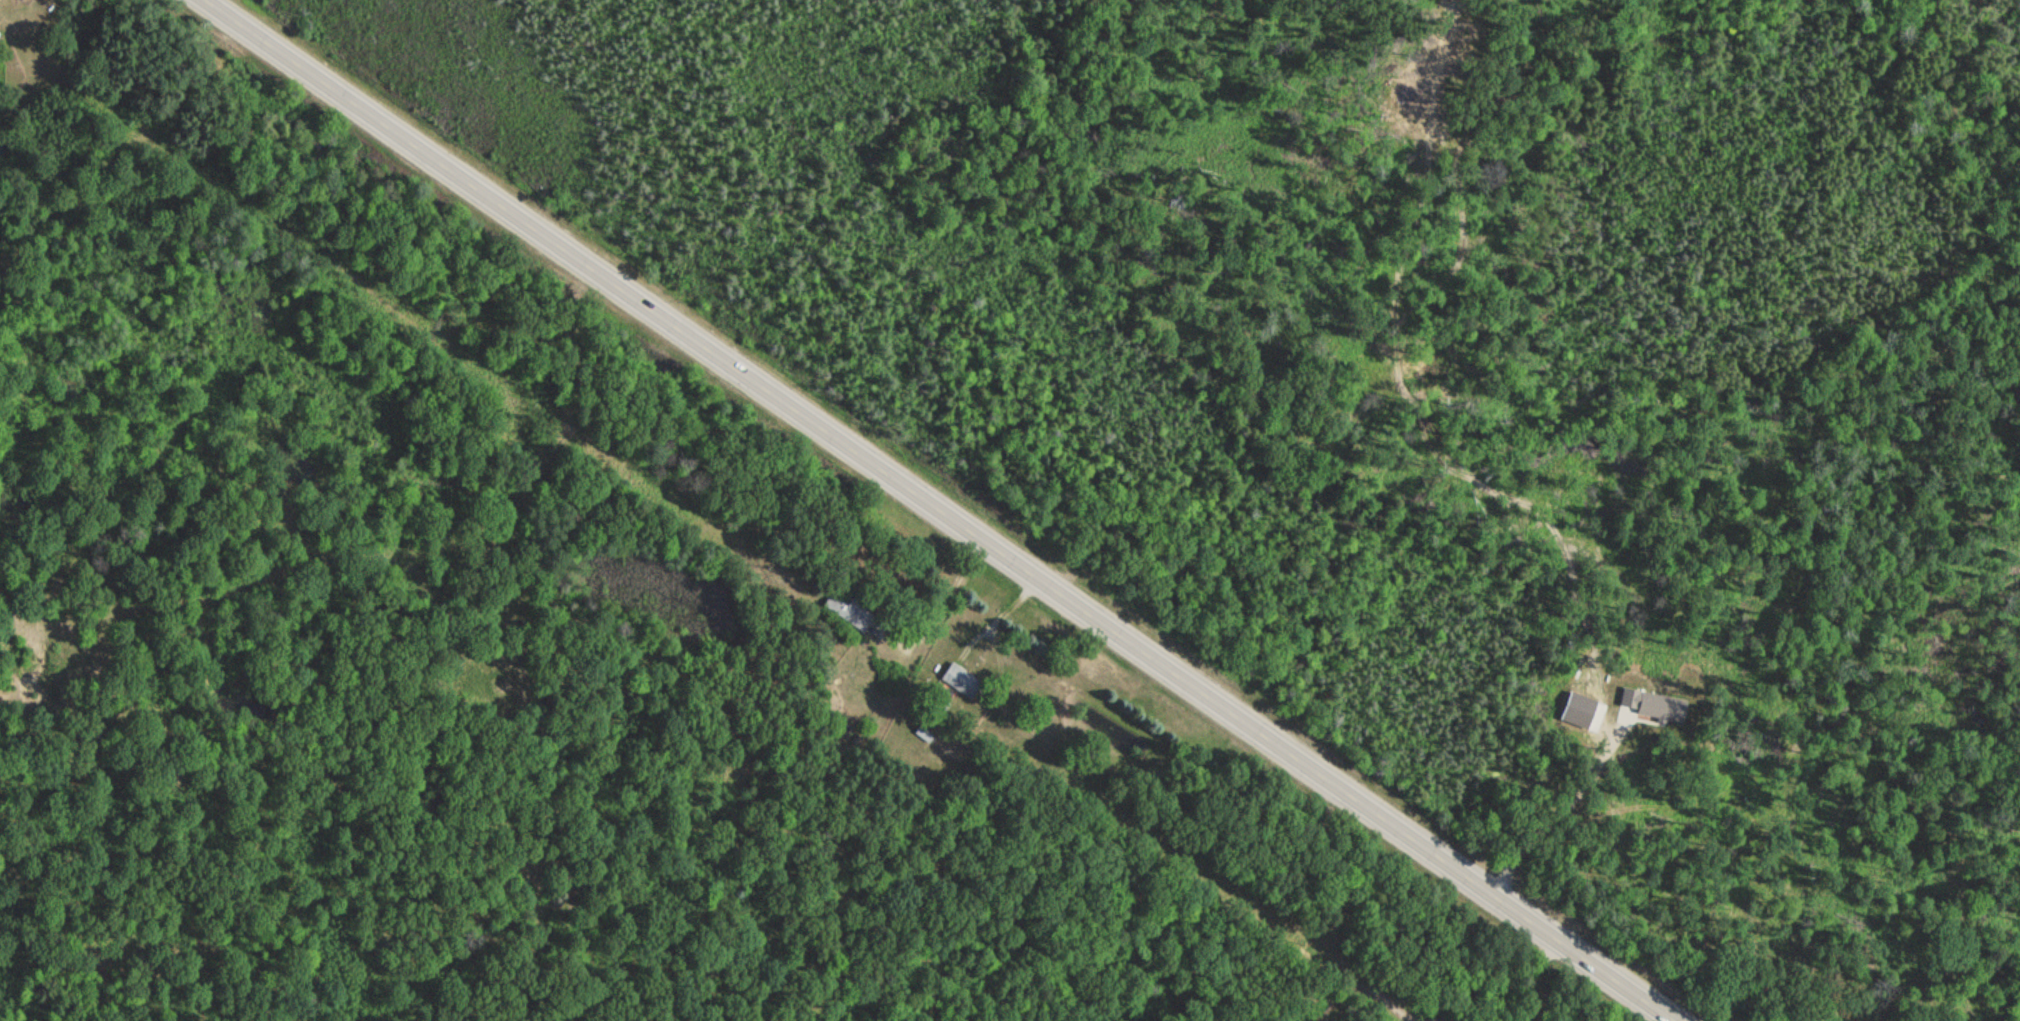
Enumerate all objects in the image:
building: (19, 0)
road: (944, 507)
building: (961, 681)

